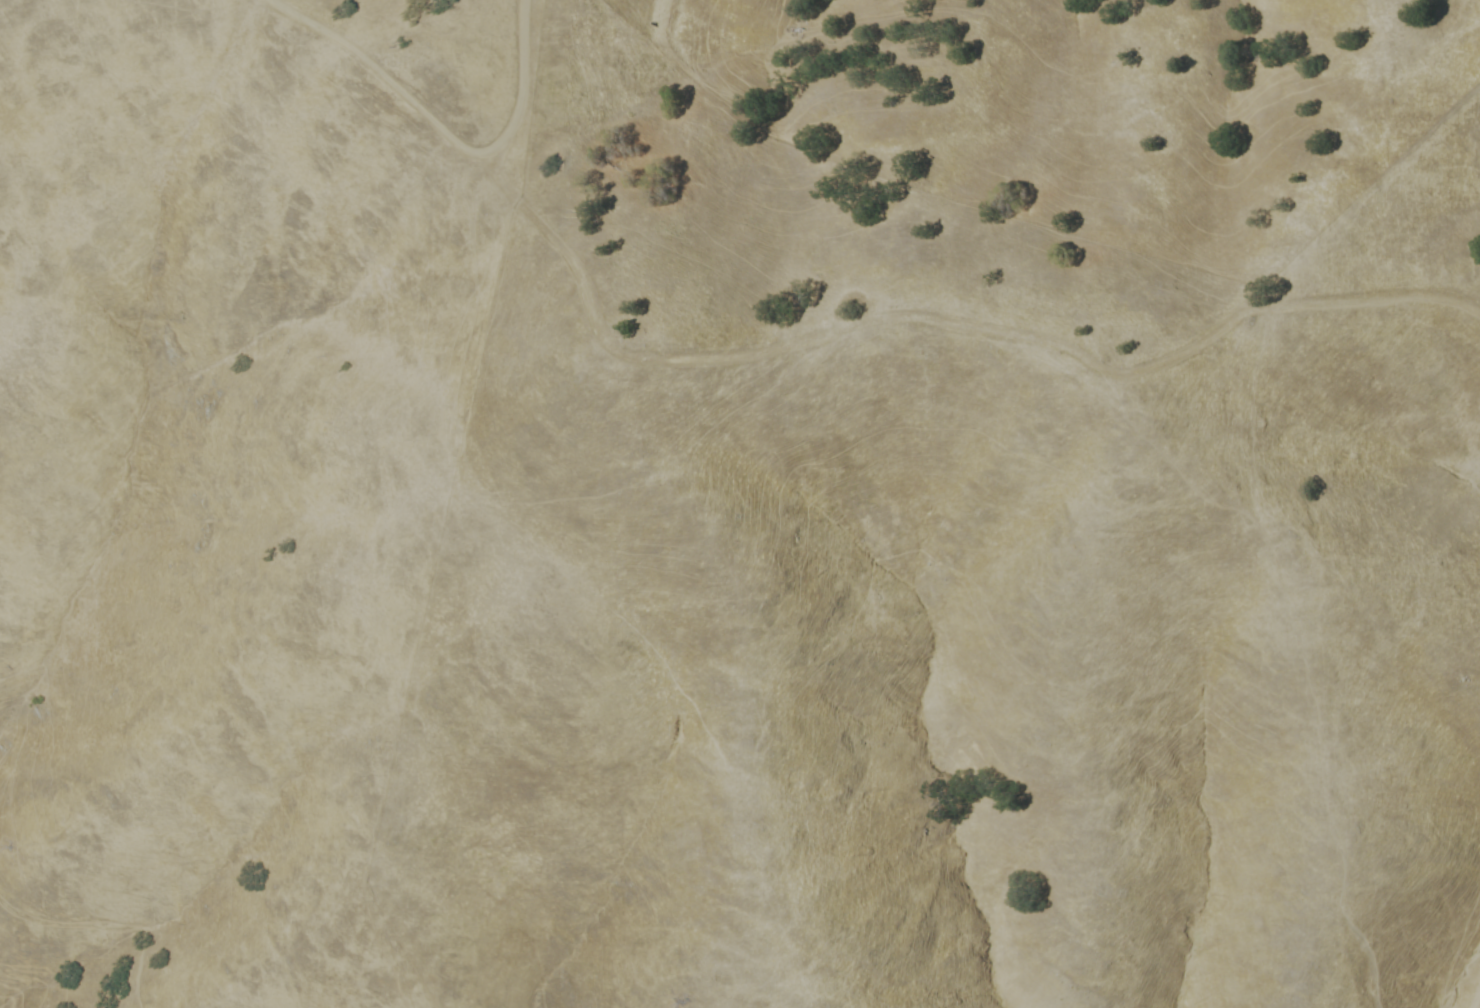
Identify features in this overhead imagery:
road: (443, 128)
road: (938, 319)
road: (1475, 997)

